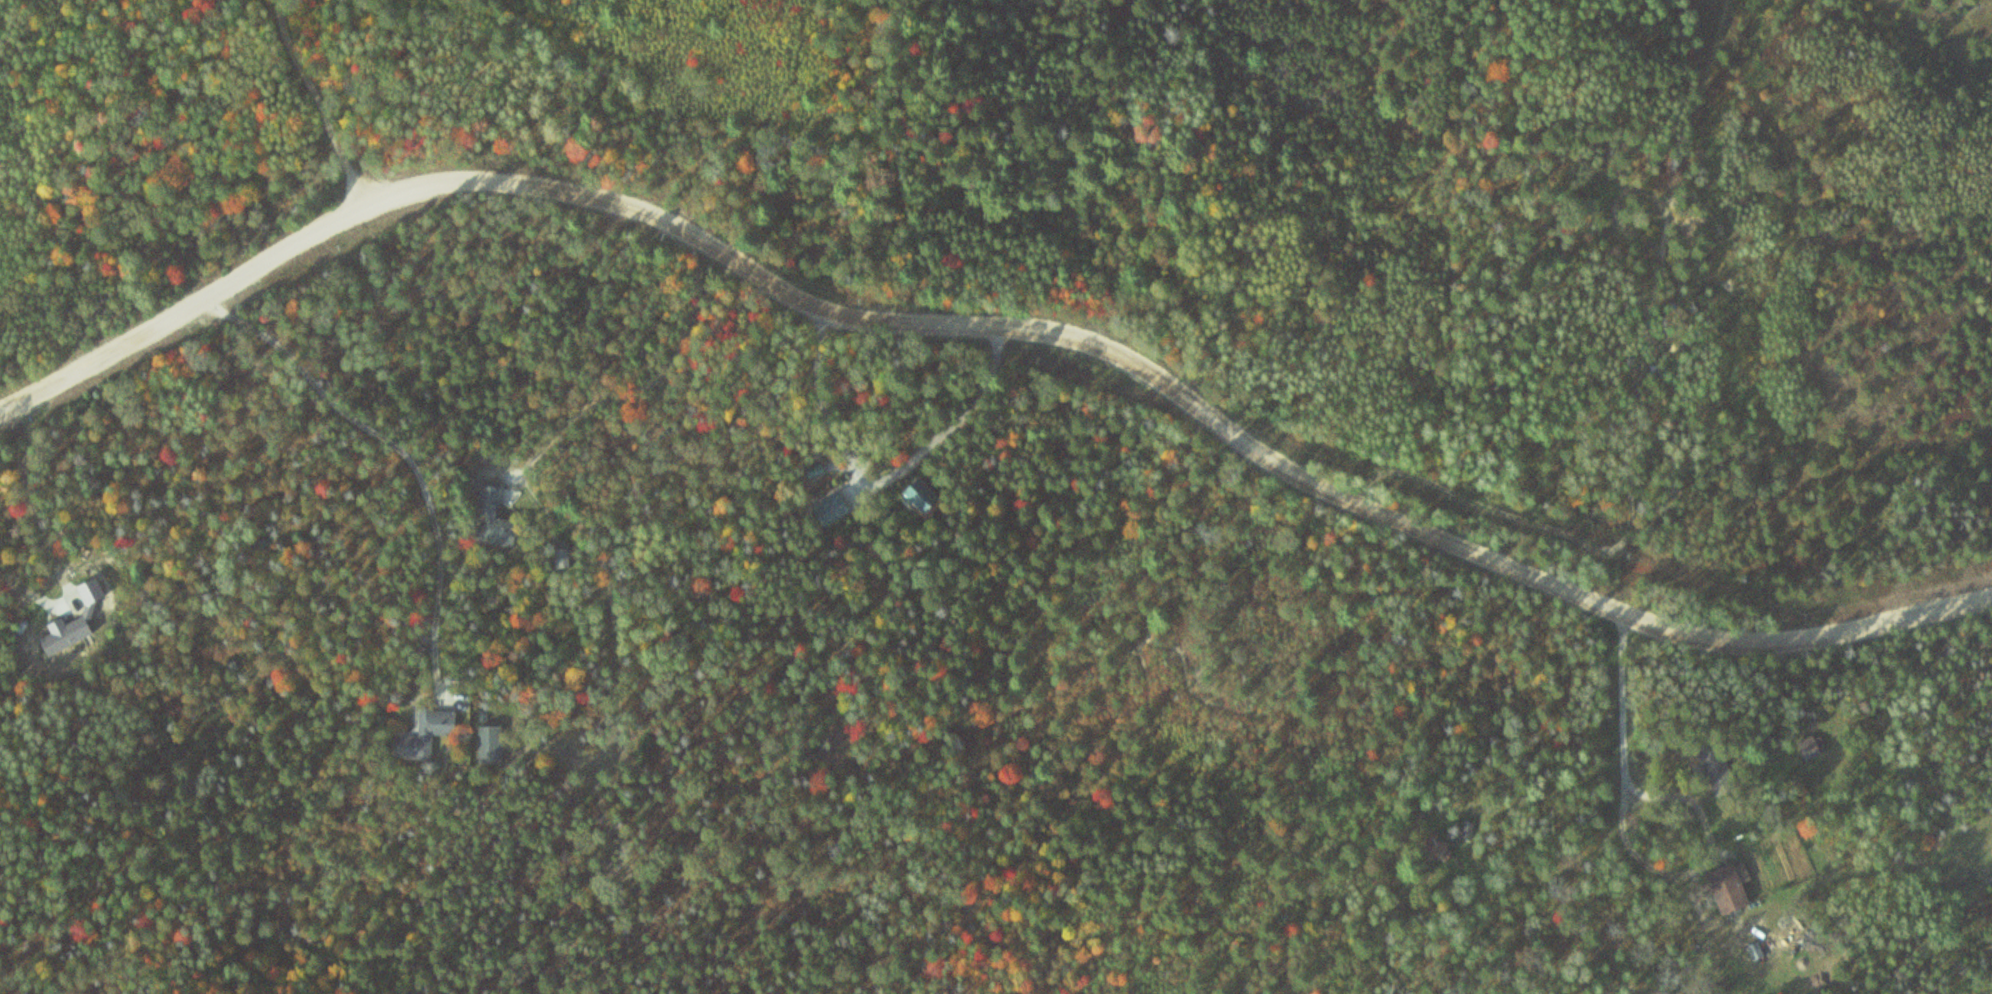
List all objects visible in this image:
road: (325, 103)
road: (991, 323)
building: (911, 493)
building: (822, 508)
building: (488, 518)
building: (554, 557)
building: (79, 620)
building: (418, 734)
building: (484, 744)
building: (1806, 747)
building: (1708, 761)
building: (1432, 848)
building: (1723, 885)

